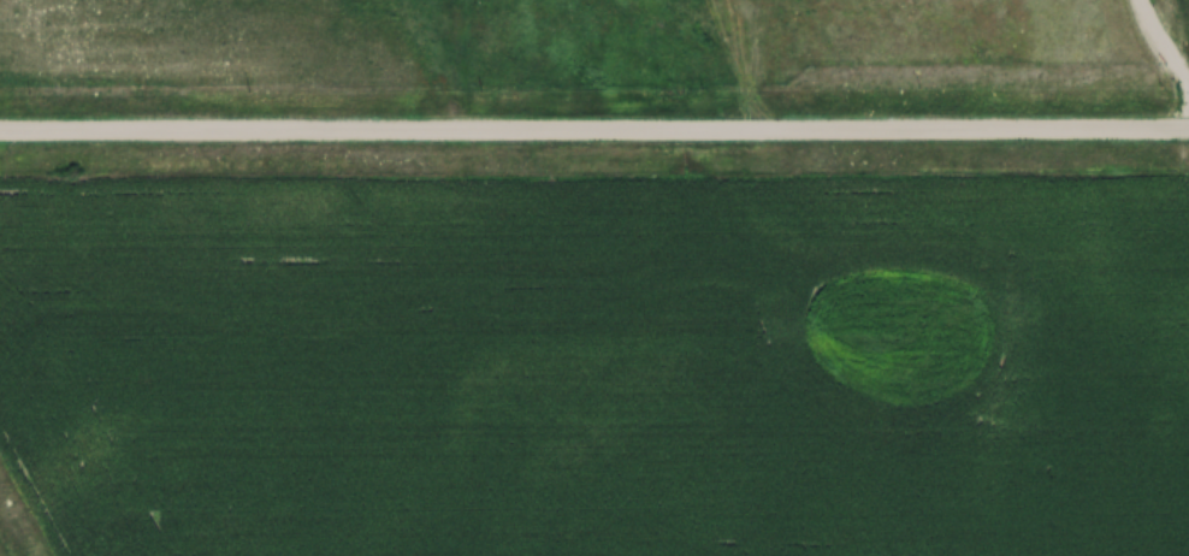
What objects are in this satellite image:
road: (594, 128)

